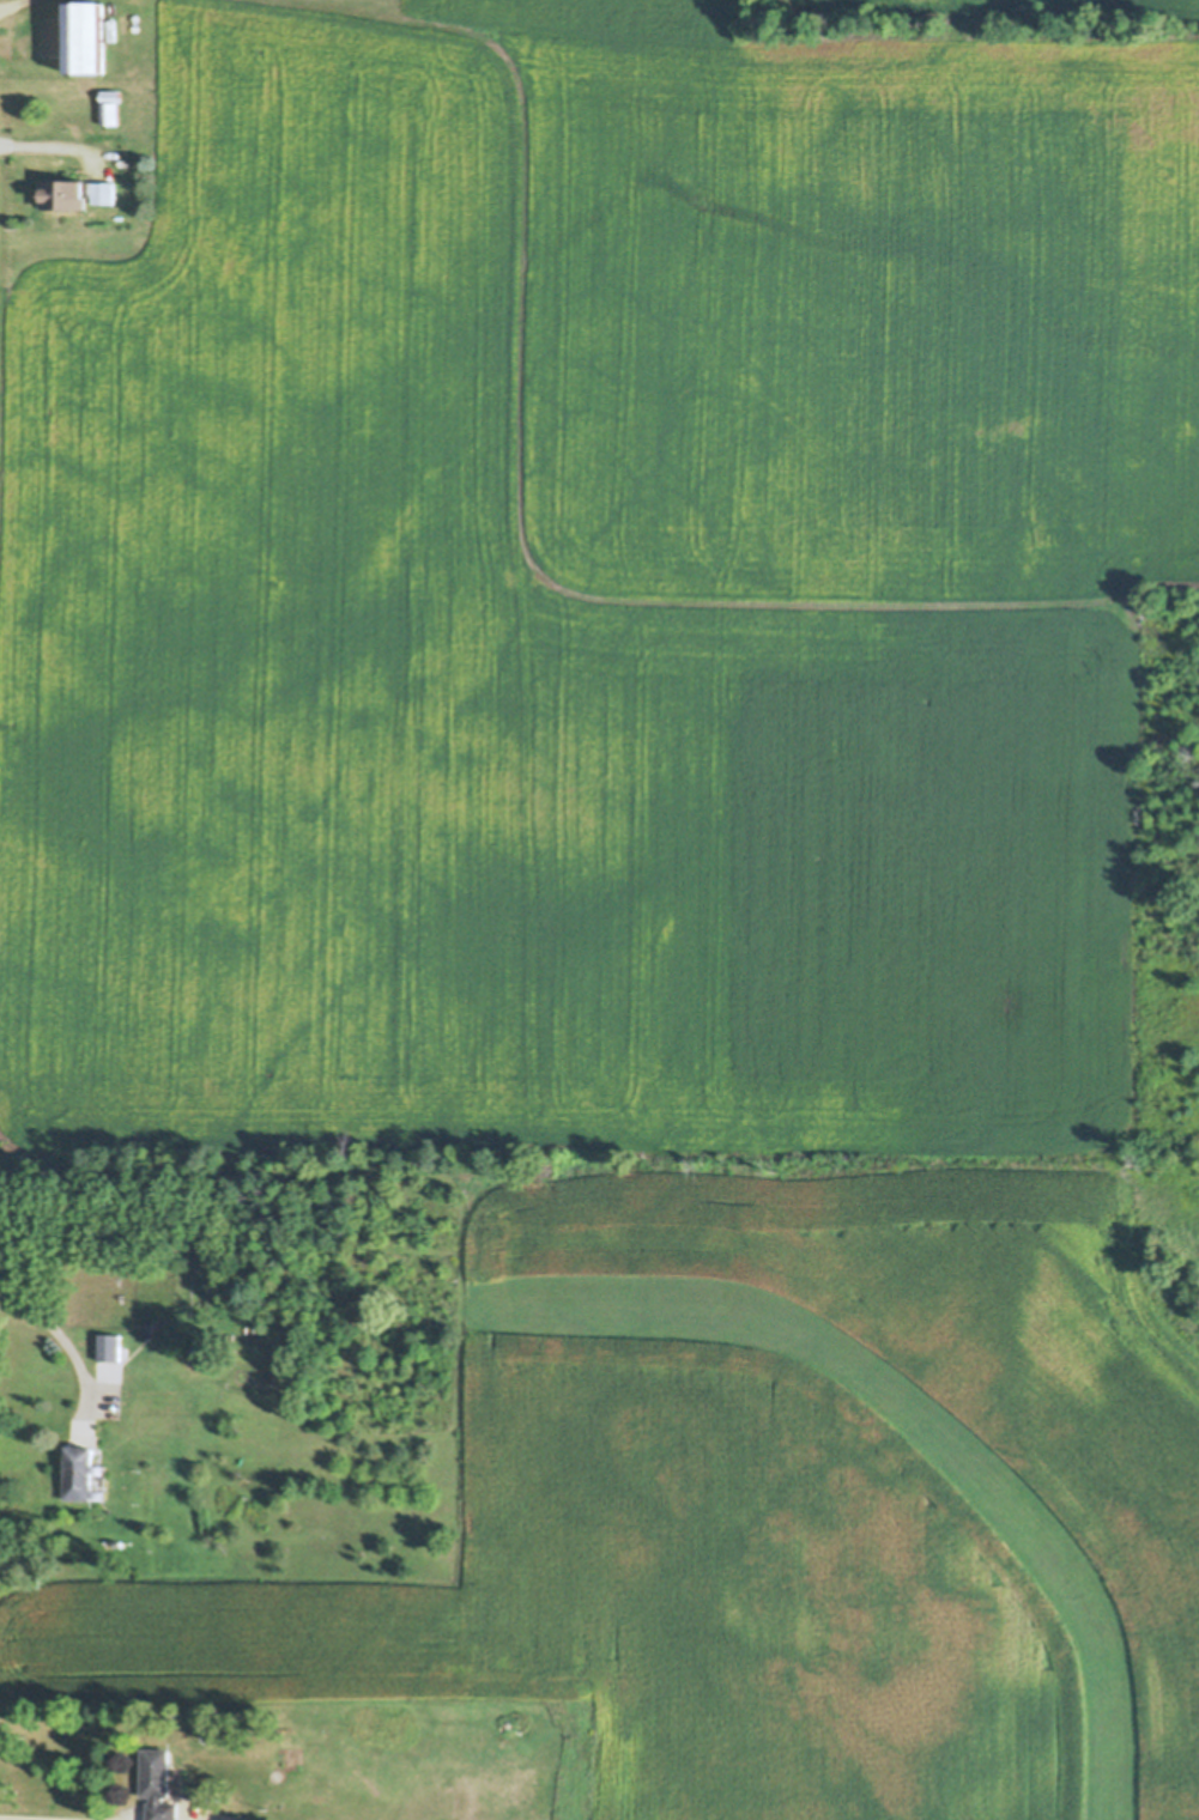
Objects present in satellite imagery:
building: (84, 37)
building: (109, 105)
building: (74, 193)
crop: (600, 575)
building: (146, 1329)
building: (108, 1347)
road: (67, 1348)
building: (79, 1475)
crop: (771, 1510)
building: (158, 1785)
road: (0, 1819)

